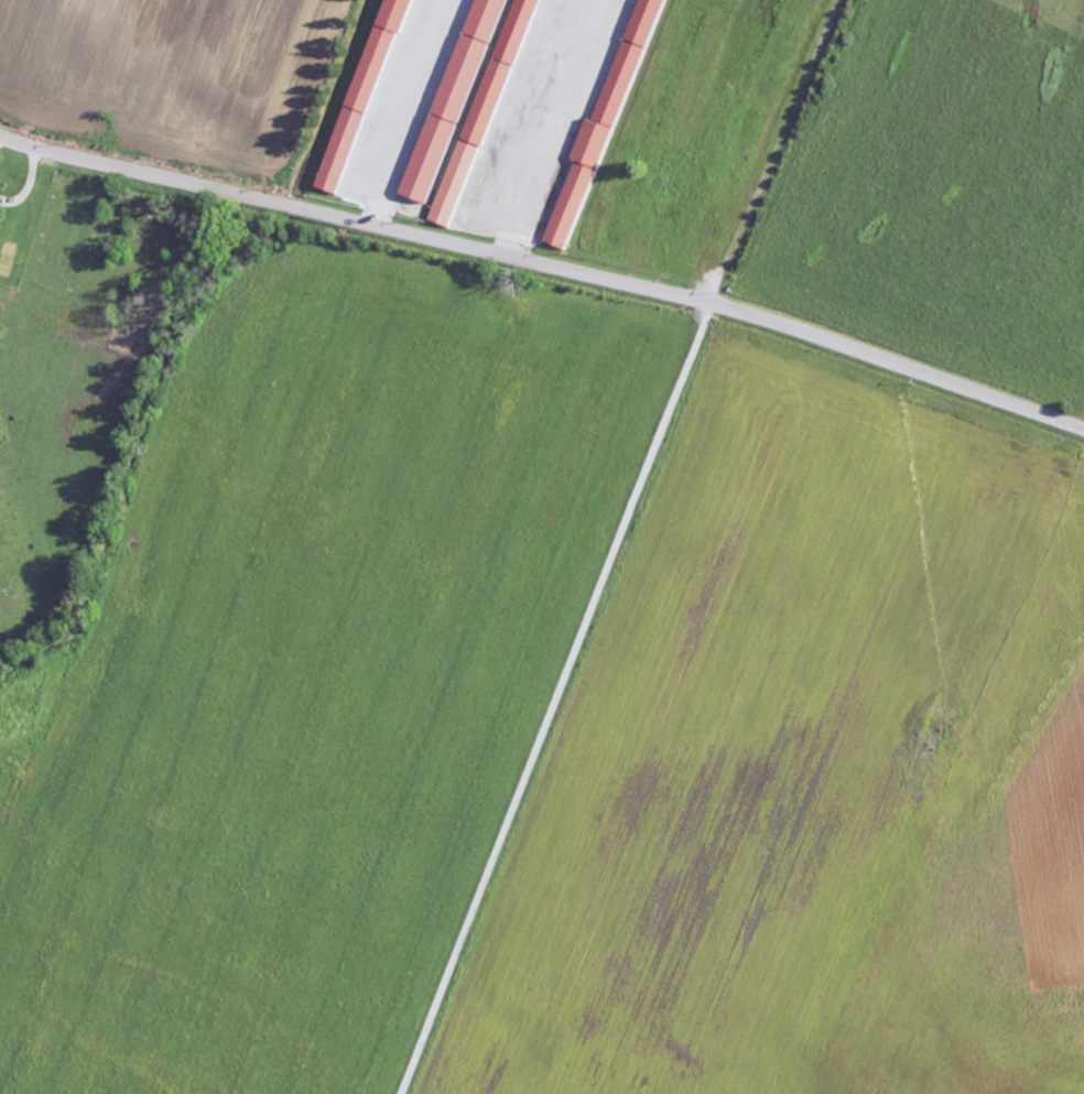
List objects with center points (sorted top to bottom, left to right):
road: (546, 264)
road: (556, 697)

